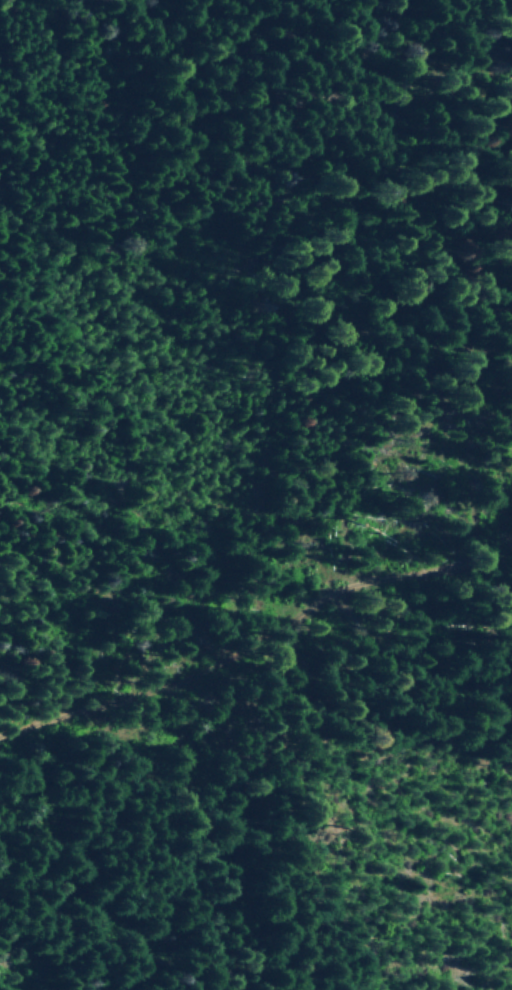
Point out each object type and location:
road: (256, 638)

